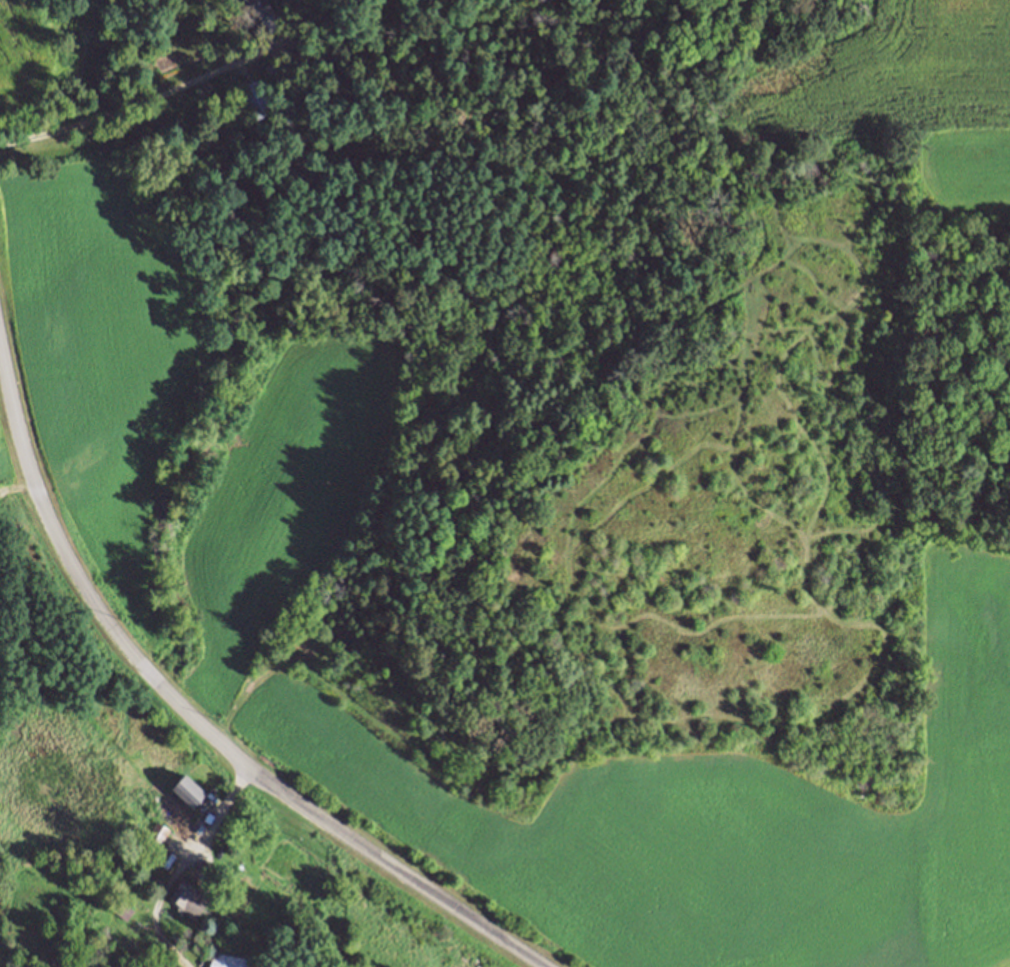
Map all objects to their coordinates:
building: (260, 7)
building: (255, 97)
road: (136, 110)
road: (195, 721)
building: (187, 790)
road: (219, 816)
building: (156, 834)
building: (188, 896)
building: (122, 910)
building: (227, 959)

